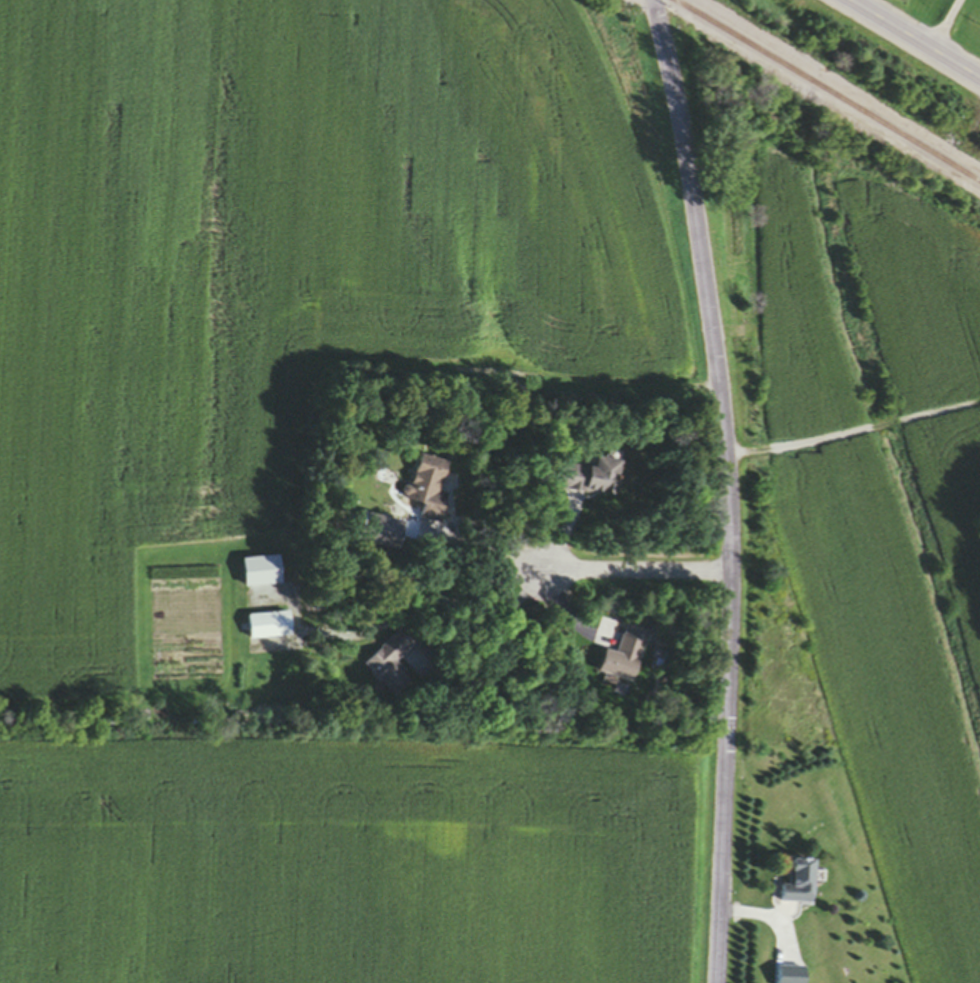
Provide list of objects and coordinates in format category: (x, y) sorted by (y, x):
road: (947, 25)
road: (913, 39)
railway: (825, 91)
road: (385, 365)
building: (593, 480)
building: (430, 485)
road: (728, 488)
road: (483, 559)
road: (637, 572)
building: (270, 627)
building: (624, 661)
building: (393, 664)
building: (803, 885)

